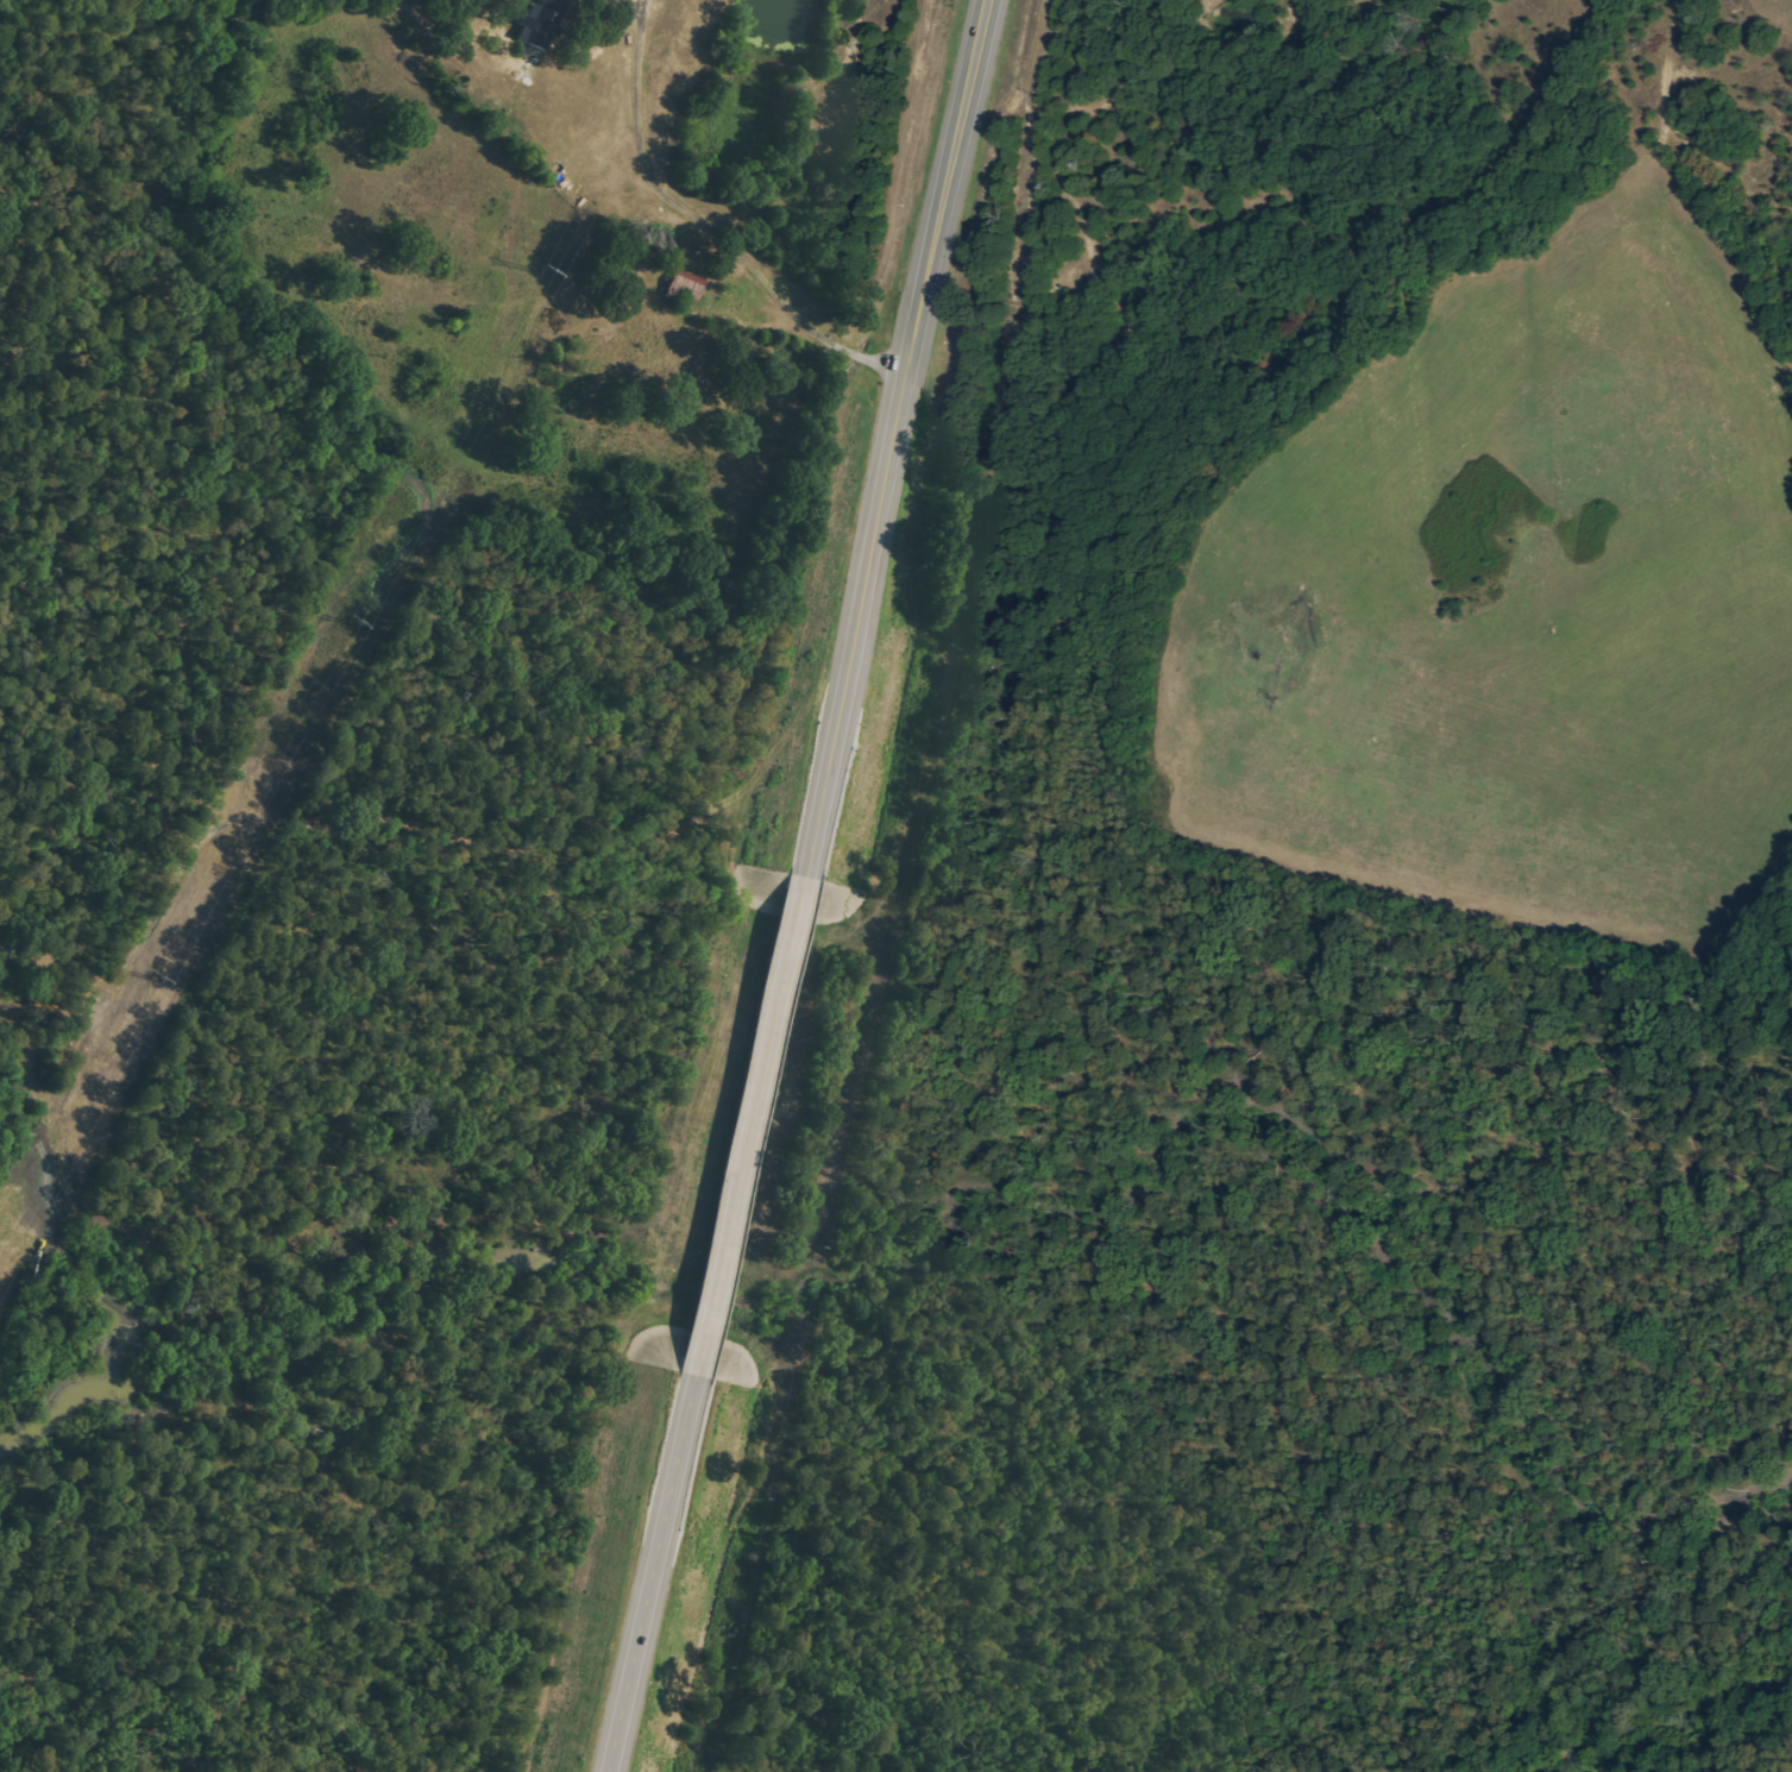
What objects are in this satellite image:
building: (540, 26)
power tower: (540, 271)
building: (686, 289)
road: (807, 326)
road: (900, 438)
power tower: (350, 621)
power tower: (157, 979)
road: (750, 1126)
road: (653, 1573)

